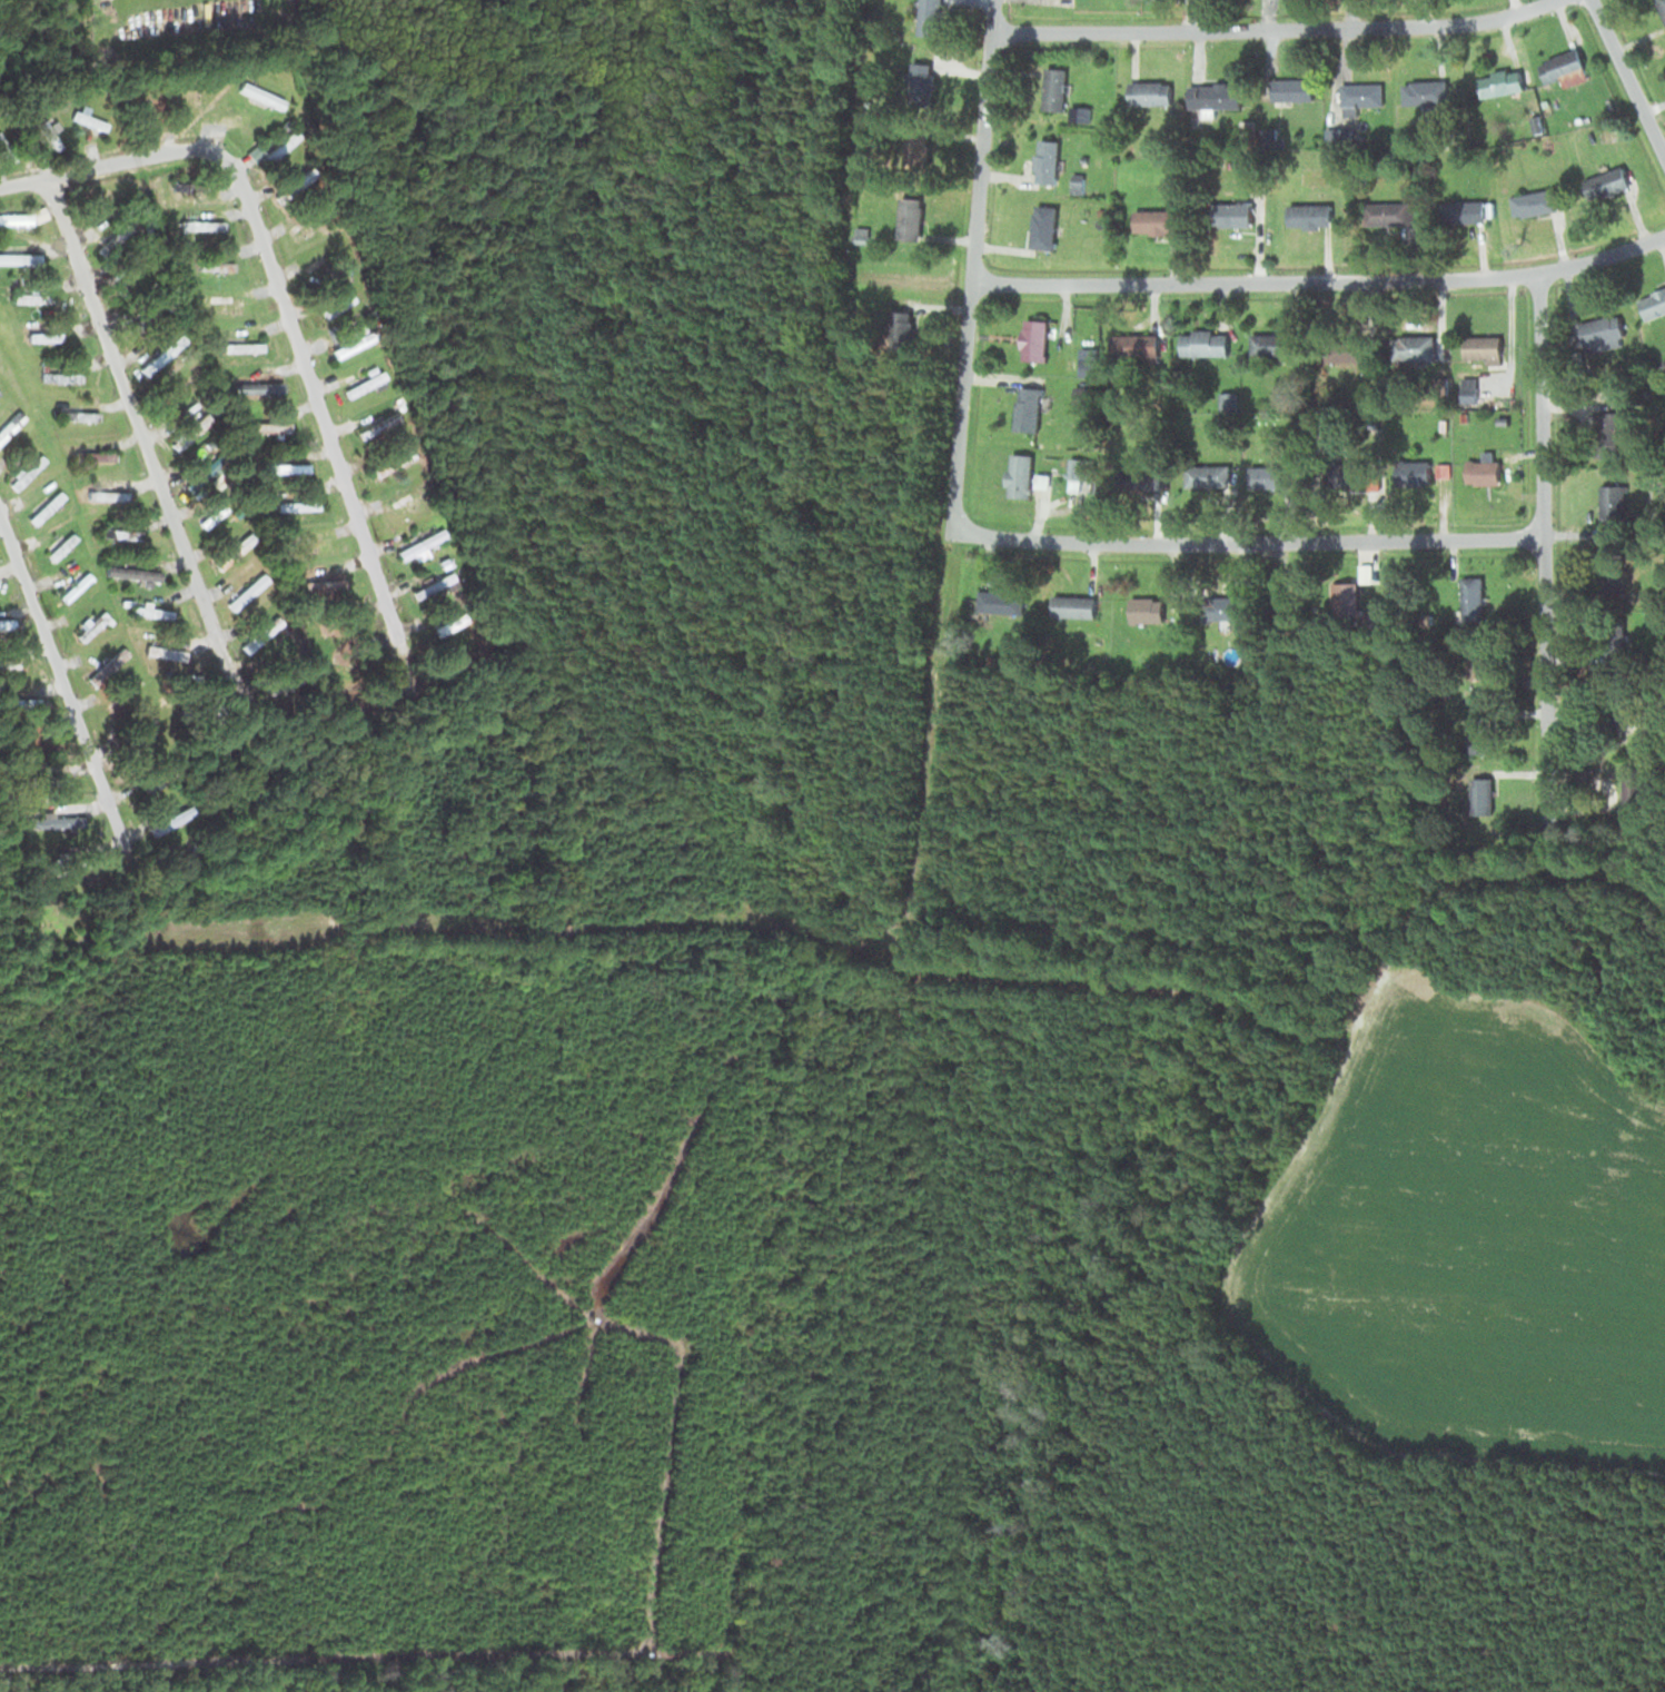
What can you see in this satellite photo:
building: (1661, 9)
road: (1268, 26)
building: (1562, 67)
building: (1498, 81)
road: (1627, 81)
building: (918, 82)
building: (245, 86)
building: (1051, 88)
building: (1289, 90)
building: (1423, 91)
building: (1148, 92)
building: (1211, 95)
building: (1358, 95)
building: (141, 109)
building: (46, 133)
building: (1340, 139)
building: (277, 145)
building: (6, 150)
building: (913, 154)
building: (1043, 160)
building: (1074, 181)
building: (1604, 182)
building: (187, 185)
building: (293, 185)
building: (1533, 201)
building: (1460, 210)
building: (1387, 211)
building: (1307, 214)
building: (1232, 216)
building: (19, 217)
building: (908, 217)
building: (1153, 220)
building: (199, 224)
building: (304, 224)
building: (1041, 226)
building: (113, 236)
building: (19, 257)
building: (214, 264)
road: (970, 265)
road: (276, 277)
road: (1320, 278)
building: (30, 296)
building: (1652, 303)
building: (336, 304)
building: (222, 305)
building: (896, 326)
building: (41, 335)
building: (1602, 335)
building: (1031, 338)
building: (1201, 342)
building: (349, 344)
building: (1131, 344)
building: (1270, 344)
building: (239, 346)
building: (1410, 347)
building: (1480, 347)
building: (58, 374)
building: (361, 383)
building: (257, 386)
building: (178, 389)
building: (87, 415)
building: (1024, 416)
building: (11, 422)
road: (135, 422)
building: (376, 425)
building: (266, 426)
building: (1604, 426)
building: (93, 455)
building: (390, 461)
building: (284, 467)
building: (1351, 468)
building: (1479, 468)
building: (23, 471)
building: (1077, 472)
building: (1410, 473)
building: (1017, 474)
building: (1206, 475)
building: (1268, 476)
building: (1137, 478)
building: (105, 494)
building: (1611, 501)
building: (294, 504)
building: (402, 504)
building: (42, 506)
building: (210, 514)
building: (118, 533)
road: (1246, 541)
building: (417, 543)
building: (307, 544)
building: (59, 546)
road: (1543, 547)
building: (231, 550)
building: (130, 572)
building: (320, 584)
building: (430, 584)
building: (72, 586)
building: (245, 591)
building: (1344, 598)
building: (998, 601)
building: (1470, 601)
building: (1071, 606)
building: (1217, 607)
building: (1144, 610)
building: (150, 612)
road: (1280, 614)
building: (4, 622)
building: (445, 622)
building: (328, 624)
building: (88, 626)
building: (258, 633)
building: (162, 652)
building: (1475, 663)
building: (105, 665)
road: (61, 681)
building: (275, 683)
building: (1470, 697)
building: (26, 702)
building: (23, 743)
building: (148, 781)
building: (1478, 795)
building: (168, 819)
building: (54, 821)

